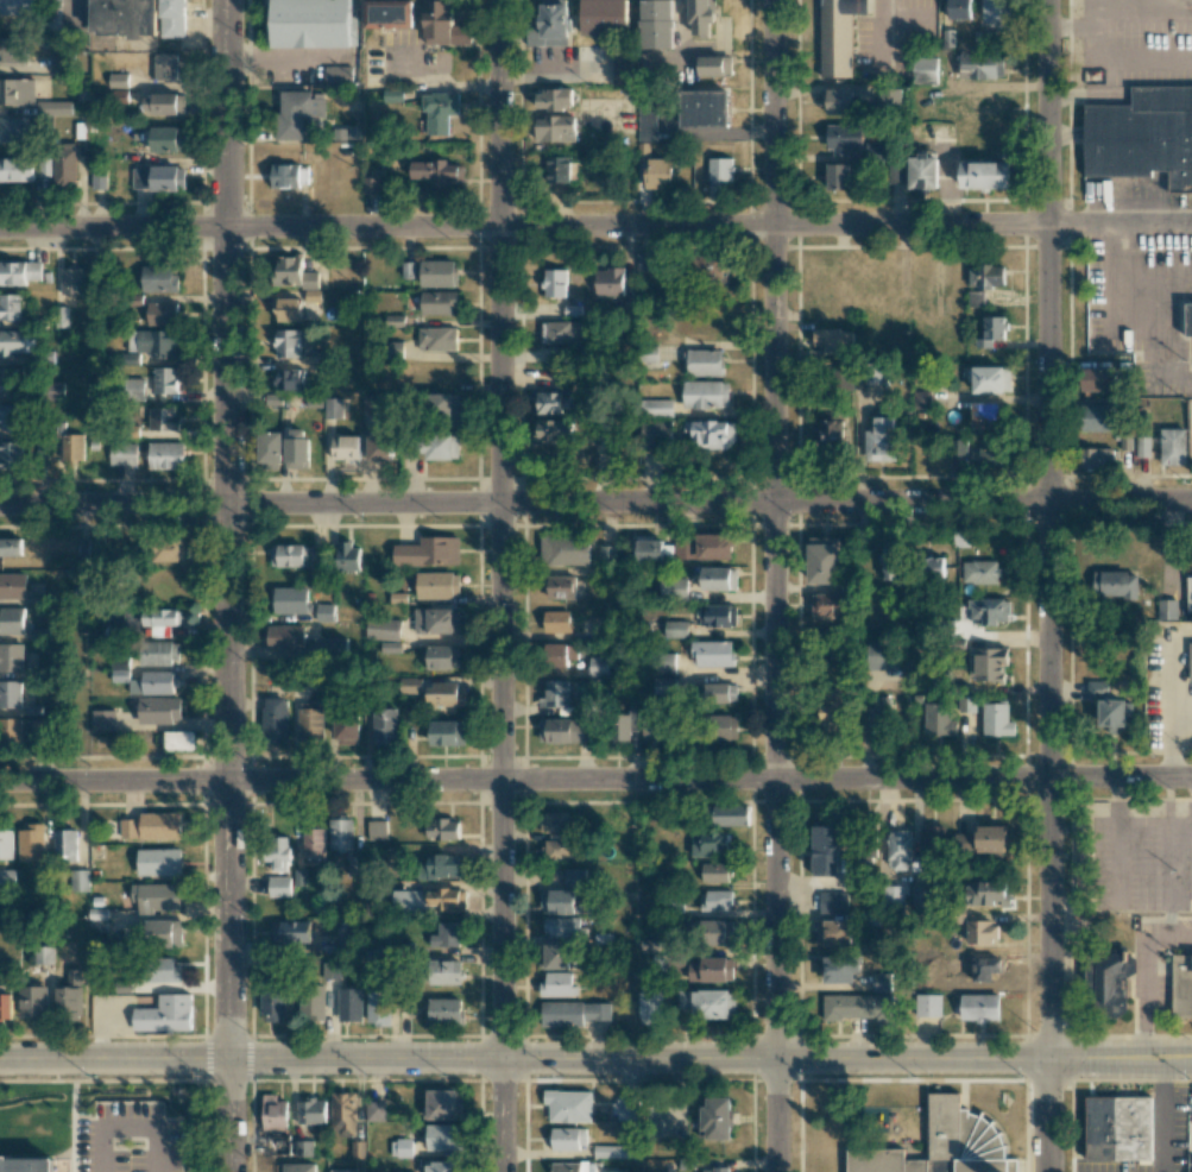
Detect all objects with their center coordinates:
road: (1108, 1)
building: (15, 7)
building: (959, 8)
building: (389, 13)
building: (997, 13)
building: (55, 14)
building: (121, 17)
building: (604, 17)
building: (700, 17)
building: (174, 18)
building: (551, 23)
building: (313, 24)
building: (443, 24)
building: (657, 24)
road: (1068, 26)
road: (1091, 31)
building: (838, 34)
building: (12, 50)
building: (59, 62)
building: (714, 65)
building: (980, 65)
building: (165, 67)
building: (623, 67)
building: (923, 70)
building: (338, 75)
building: (118, 80)
building: (17, 92)
building: (889, 97)
building: (554, 99)
building: (838, 100)
building: (163, 103)
building: (53, 108)
building: (704, 108)
building: (439, 111)
building: (298, 112)
building: (645, 120)
building: (14, 128)
building: (555, 128)
building: (1140, 134)
building: (844, 138)
building: (166, 139)
building: (875, 151)
building: (64, 165)
building: (44, 166)
building: (15, 169)
building: (561, 169)
building: (654, 169)
building: (923, 171)
building: (435, 172)
building: (718, 174)
building: (898, 175)
building: (984, 175)
building: (288, 176)
building: (838, 176)
building: (99, 178)
building: (158, 178)
building: (370, 185)
road: (1120, 223)
road: (523, 226)
building: (645, 262)
building: (19, 272)
building: (292, 272)
building: (437, 273)
road: (1153, 275)
building: (986, 276)
building: (159, 278)
building: (71, 281)
building: (610, 282)
building: (555, 283)
building: (313, 295)
building: (975, 298)
building: (437, 302)
building: (11, 307)
building: (162, 313)
road: (1129, 314)
building: (1188, 320)
building: (991, 330)
building: (560, 332)
building: (436, 339)
building: (833, 340)
building: (17, 341)
building: (152, 342)
building: (288, 342)
building: (705, 363)
building: (1099, 378)
building: (290, 379)
building: (991, 379)
building: (10, 380)
building: (162, 382)
building: (706, 393)
building: (920, 398)
building: (554, 402)
building: (371, 403)
building: (441, 405)
building: (333, 408)
building: (656, 408)
building: (985, 415)
building: (8, 417)
building: (1098, 417)
building: (163, 418)
building: (554, 429)
building: (657, 433)
building: (711, 434)
building: (831, 434)
building: (879, 440)
building: (380, 443)
building: (1142, 446)
building: (1173, 446)
building: (71, 447)
building: (269, 447)
building: (345, 447)
building: (440, 447)
building: (296, 448)
building: (959, 448)
building: (991, 453)
building: (10, 454)
building: (122, 454)
building: (165, 455)
building: (1098, 458)
road: (595, 505)
road: (227, 529)
building: (11, 547)
building: (704, 547)
building: (164, 550)
building: (563, 550)
building: (428, 552)
building: (649, 552)
building: (607, 554)
building: (296, 556)
building: (347, 557)
building: (824, 560)
building: (889, 560)
building: (979, 572)
building: (718, 579)
building: (1115, 584)
building: (13, 585)
building: (437, 585)
road: (775, 585)
road: (500, 586)
building: (560, 586)
building: (673, 586)
road: (1047, 586)
building: (1188, 593)
building: (289, 600)
building: (827, 605)
building: (1167, 609)
building: (988, 610)
building: (324, 612)
building: (714, 616)
building: (159, 617)
building: (436, 620)
building: (556, 620)
building: (601, 623)
building: (383, 629)
building: (675, 629)
building: (159, 631)
building: (285, 636)
building: (330, 647)
building: (159, 653)
building: (556, 654)
building: (713, 654)
building: (881, 655)
building: (11, 656)
building: (442, 657)
building: (1191, 661)
building: (663, 663)
building: (990, 664)
building: (598, 666)
building: (120, 670)
building: (153, 682)
road: (1169, 685)
building: (410, 686)
building: (664, 686)
building: (720, 692)
building: (10, 694)
building: (443, 694)
building: (555, 694)
building: (1109, 705)
building: (159, 710)
building: (833, 712)
building: (879, 716)
building: (102, 719)
building: (275, 719)
building: (938, 719)
building: (997, 719)
building: (311, 724)
building: (347, 726)
building: (385, 726)
building: (40, 727)
building: (656, 727)
building: (723, 727)
building: (10, 730)
building: (619, 730)
building: (566, 731)
building: (448, 732)
building: (178, 741)
road: (1171, 749)
road: (595, 781)
building: (729, 815)
building: (554, 821)
building: (152, 826)
building: (442, 828)
building: (376, 830)
building: (340, 834)
building: (990, 839)
building: (31, 843)
building: (313, 843)
building: (709, 843)
building: (6, 844)
building: (64, 845)
building: (931, 846)
building: (561, 849)
building: (825, 850)
building: (898, 850)
building: (278, 853)
building: (159, 862)
building: (442, 867)
building: (714, 872)
building: (574, 878)
building: (78, 880)
building: (6, 882)
building: (278, 887)
building: (894, 894)
building: (986, 894)
building: (156, 897)
building: (920, 899)
building: (424, 900)
building: (717, 900)
building: (556, 901)
building: (832, 902)
building: (96, 920)
building: (561, 926)
building: (294, 932)
building: (717, 932)
building: (982, 932)
building: (165, 933)
building: (833, 933)
building: (347, 935)
building: (444, 935)
building: (376, 952)
building: (554, 956)
building: (989, 965)
building: (839, 969)
building: (164, 970)
building: (711, 970)
road: (1143, 971)
building: (444, 972)
building: (1109, 981)
building: (881, 982)
building: (557, 984)
building: (1180, 987)
building: (69, 994)
building: (33, 1001)
building: (5, 1002)
building: (705, 1003)
building: (314, 1004)
building: (349, 1004)
building: (649, 1004)
building: (926, 1004)
building: (857, 1007)
building: (273, 1008)
building: (377, 1008)
building: (978, 1008)
building: (446, 1010)
building: (573, 1013)
building: (164, 1014)
road: (113, 1059)
road: (708, 1059)
road: (147, 1080)
building: (444, 1104)
building: (568, 1105)
building: (374, 1110)
building: (626, 1110)
building: (311, 1111)
building: (272, 1113)
building: (342, 1113)
road: (227, 1115)
road: (1162, 1115)
building: (714, 1119)
road: (46, 1124)
building: (1121, 1127)
building: (147, 1132)
building: (441, 1138)
building: (567, 1138)
parking lot: (37, 1140)
building: (278, 1145)
building: (942, 1145)
building: (401, 1147)
building: (303, 1148)
building: (614, 1151)
building: (27, 1164)
building: (440, 1166)
building: (298, 1167)
building: (568, 1167)
building: (719, 1168)
building: (342, 1170)

